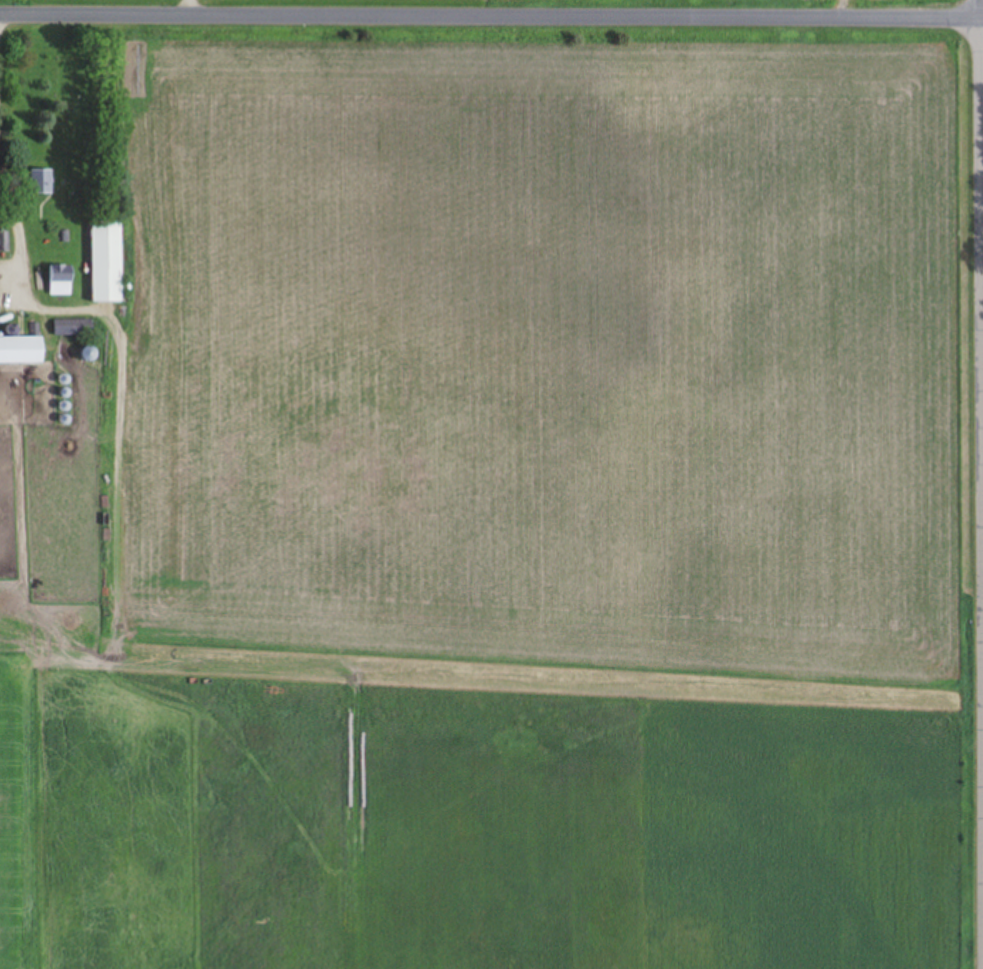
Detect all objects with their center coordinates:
road: (491, 17)
building: (43, 180)
building: (4, 240)
building: (108, 260)
building: (61, 279)
building: (22, 349)
crop: (512, 512)

